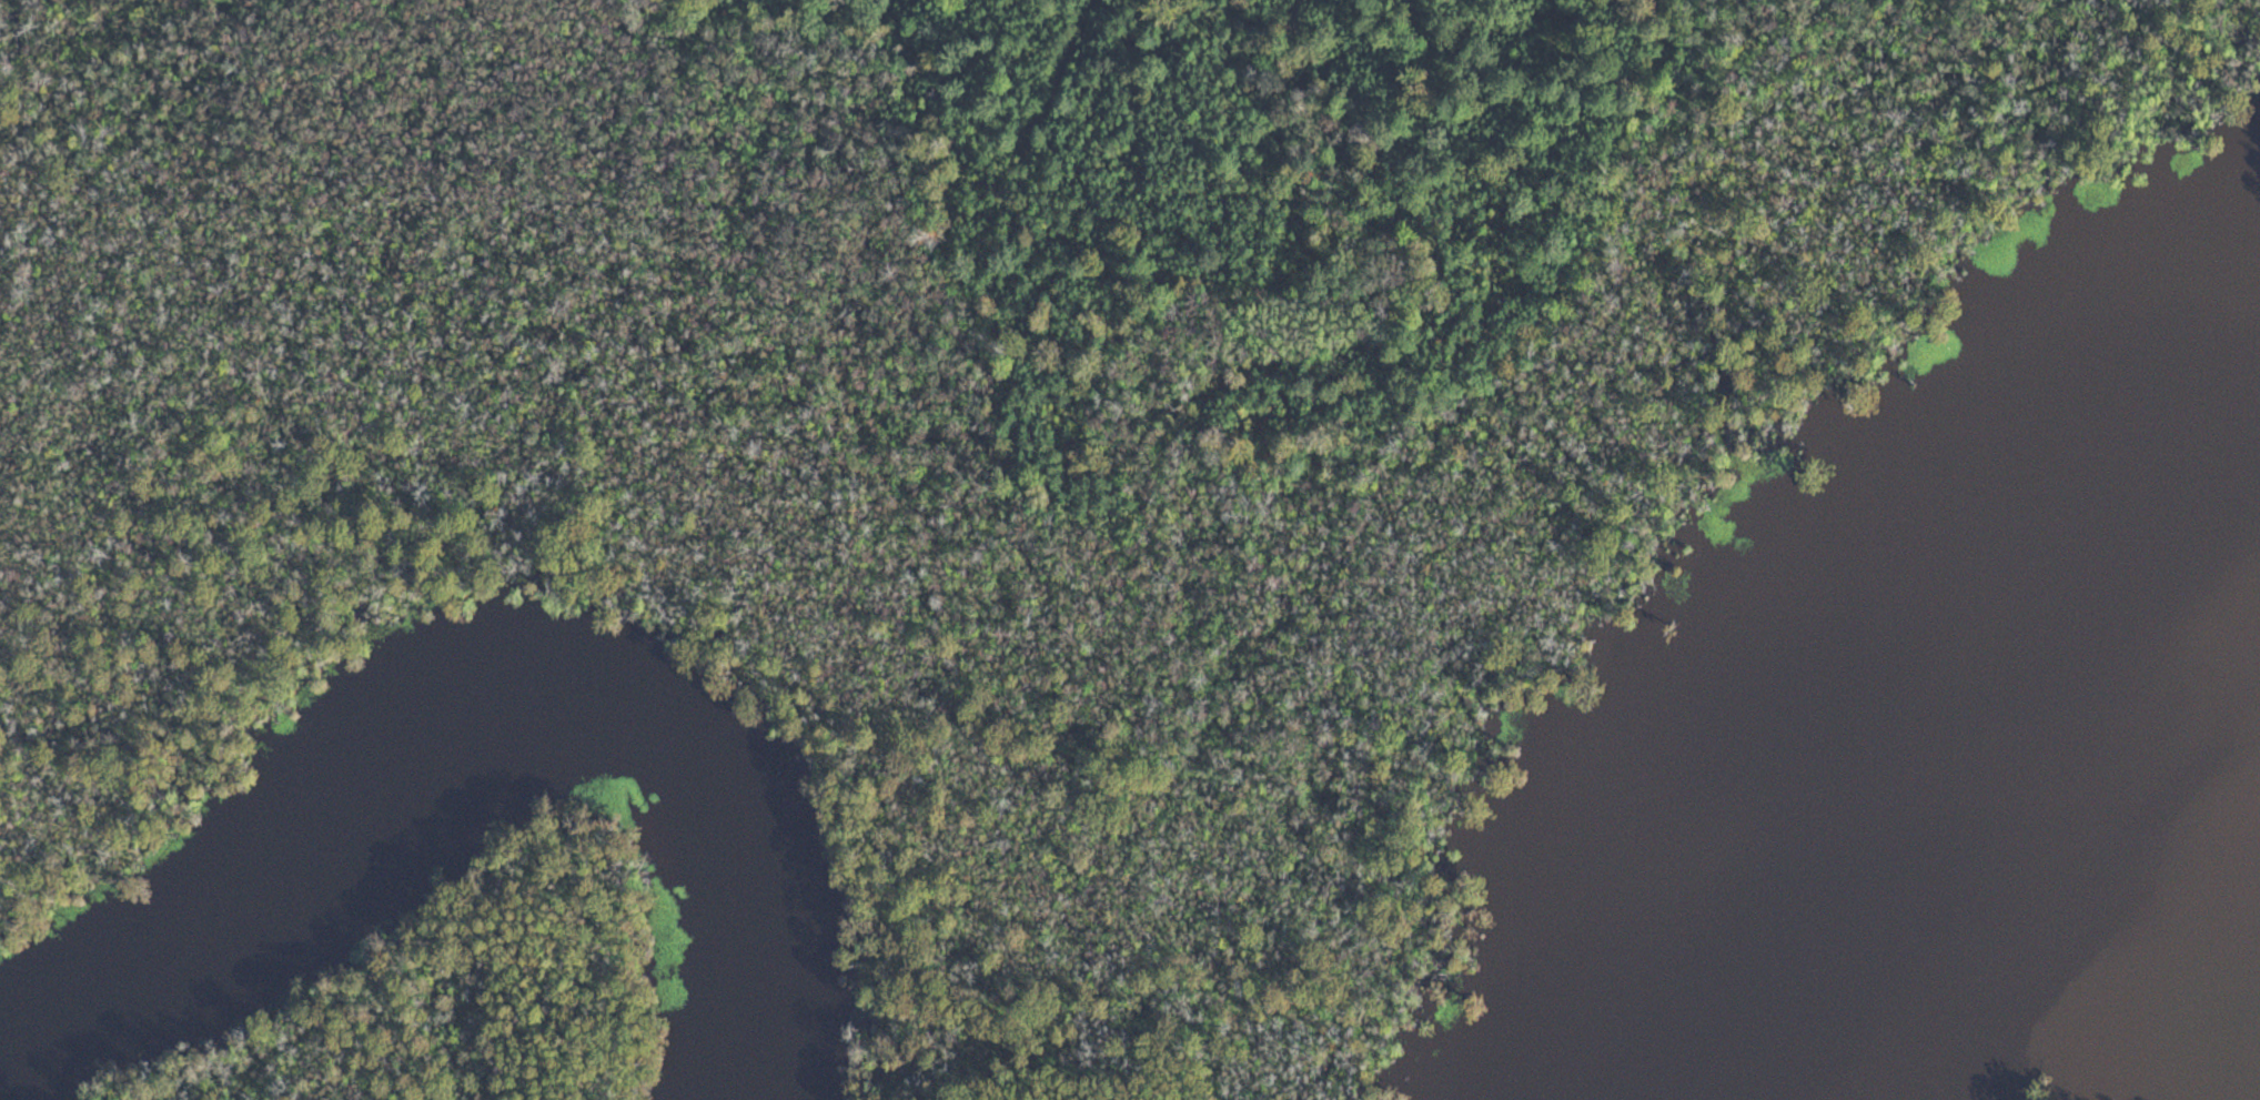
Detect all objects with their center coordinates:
park: (975, 414)

